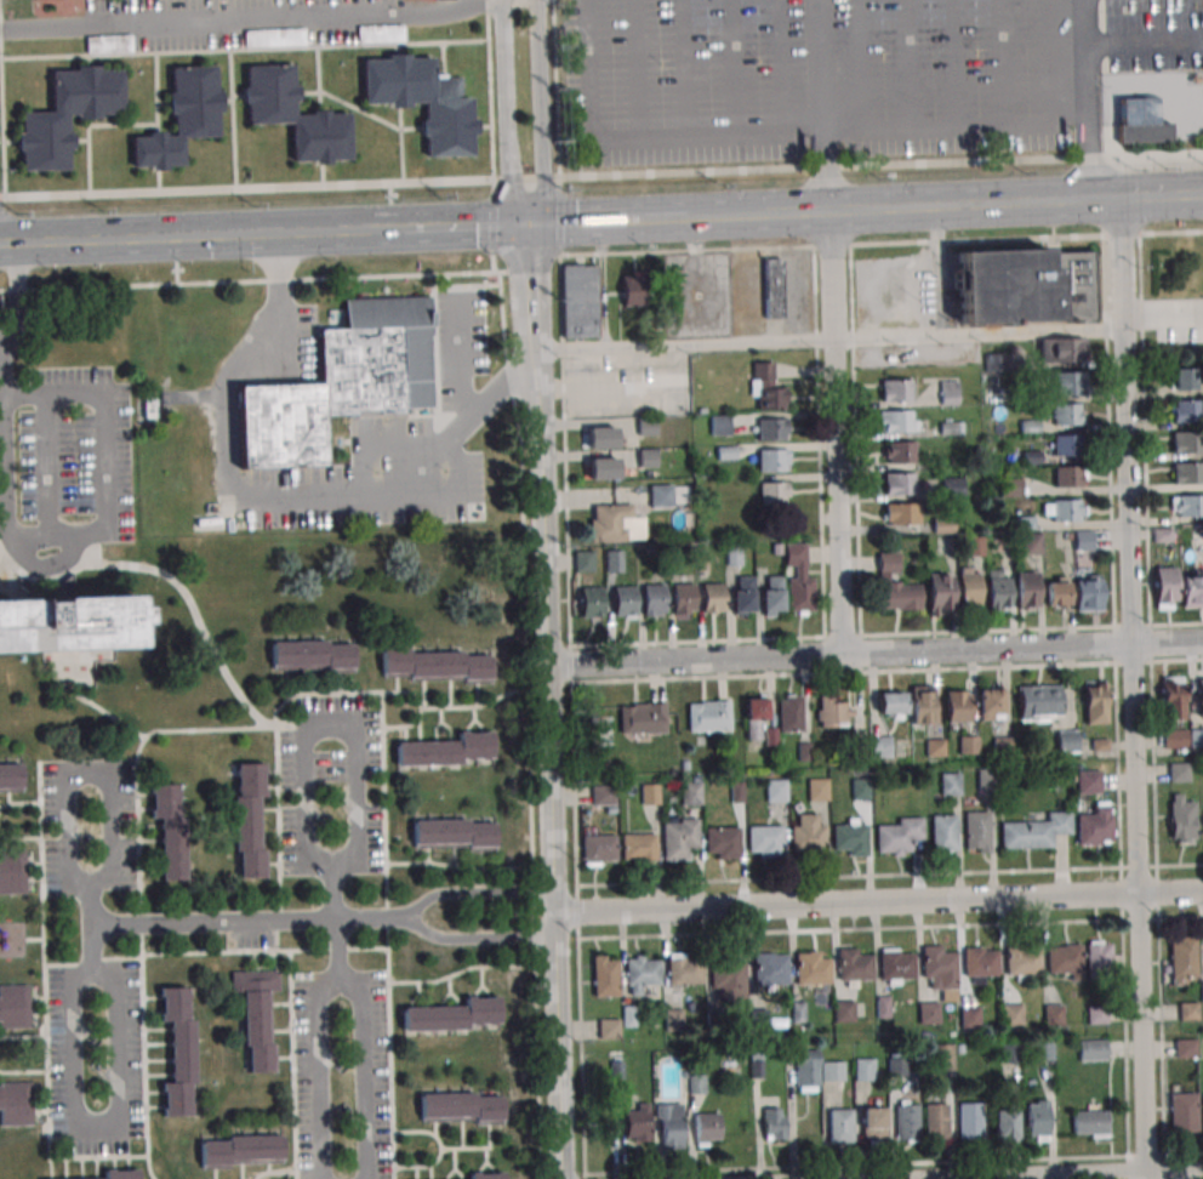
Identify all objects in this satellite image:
road: (244, 22)
building: (381, 33)
building: (275, 36)
building: (109, 42)
road: (1140, 42)
road: (244, 49)
road: (443, 59)
road: (1002, 61)
road: (957, 62)
road: (912, 63)
road: (861, 64)
road: (785, 65)
road: (686, 67)
road: (736, 67)
road: (637, 68)
road: (156, 79)
road: (318, 79)
road: (490, 90)
road: (555, 90)
road: (238, 96)
building: (422, 101)
road: (228, 102)
road: (1079, 102)
road: (158, 109)
road: (358, 110)
road: (2, 113)
road: (540, 113)
road: (507, 114)
building: (183, 118)
building: (295, 118)
building: (44, 119)
road: (233, 119)
building: (1140, 121)
road: (126, 125)
road: (484, 126)
road: (890, 126)
road: (684, 135)
road: (80, 142)
road: (10, 143)
road: (400, 146)
road: (89, 156)
road: (880, 165)
road: (323, 176)
road: (525, 180)
road: (159, 181)
road: (246, 188)
road: (1017, 207)
road: (559, 217)
road: (760, 217)
road: (608, 222)
road: (492, 226)
traffic signals: (529, 226)
road: (450, 227)
traffic signals: (234, 233)
road: (186, 234)
building: (1005, 286)
building: (771, 287)
building: (632, 289)
building: (581, 301)
road: (1164, 314)
road: (828, 337)
building: (1062, 349)
building: (1186, 378)
building: (347, 380)
building: (1066, 383)
building: (765, 388)
building: (896, 391)
building: (950, 392)
road: (38, 394)
building: (1186, 411)
building: (1066, 414)
building: (897, 421)
building: (719, 425)
building: (771, 428)
road: (838, 434)
building: (599, 437)
building: (1187, 442)
building: (1066, 444)
road: (388, 450)
building: (899, 451)
building: (772, 458)
road: (49, 467)
building: (603, 468)
building: (1187, 472)
building: (1067, 475)
building: (899, 483)
building: (774, 492)
building: (665, 495)
road: (292, 496)
building: (1186, 506)
building: (1064, 509)
building: (901, 513)
building: (610, 523)
road: (56, 540)
building: (1032, 542)
road: (542, 558)
building: (585, 560)
building: (615, 560)
building: (799, 580)
building: (895, 586)
building: (969, 587)
building: (1165, 588)
building: (998, 589)
building: (1027, 589)
building: (1192, 589)
building: (1056, 592)
building: (1087, 592)
building: (940, 593)
building: (743, 596)
building: (772, 596)
building: (683, 599)
building: (713, 599)
building: (652, 600)
building: (623, 602)
building: (591, 603)
building: (69, 623)
road: (876, 654)
building: (312, 655)
building: (435, 667)
road: (1133, 690)
building: (1201, 695)
building: (1173, 697)
building: (1039, 701)
building: (1096, 701)
building: (922, 704)
building: (990, 704)
building: (891, 705)
building: (957, 706)
building: (833, 711)
building: (789, 713)
building: (708, 716)
building: (643, 717)
building: (756, 718)
road: (326, 722)
building: (1175, 737)
building: (1196, 737)
building: (1067, 740)
building: (968, 744)
building: (882, 746)
building: (449, 750)
road: (86, 771)
building: (1179, 771)
building: (10, 778)
building: (1088, 782)
building: (950, 784)
building: (861, 788)
building: (776, 790)
building: (817, 790)
building: (650, 794)
building: (605, 799)
building: (1181, 818)
building: (250, 820)
building: (683, 826)
building: (1095, 826)
building: (171, 827)
building: (976, 832)
building: (1033, 832)
building: (942, 833)
building: (455, 835)
building: (897, 836)
building: (850, 839)
building: (765, 841)
building: (808, 841)
building: (723, 843)
building: (639, 847)
building: (599, 849)
building: (12, 872)
road: (474, 894)
road: (554, 902)
road: (878, 902)
road: (577, 911)
road: (267, 919)
road: (336, 922)
road: (113, 923)
road: (91, 933)
road: (474, 938)
building: (1097, 955)
building: (1064, 958)
building: (1021, 961)
building: (1182, 961)
building: (980, 963)
building: (895, 964)
building: (854, 966)
building: (939, 968)
building: (770, 969)
building: (683, 970)
building: (811, 970)
building: (643, 973)
building: (726, 973)
building: (605, 975)
road: (338, 981)
building: (15, 1006)
building: (844, 1010)
building: (928, 1012)
building: (1187, 1012)
building: (1011, 1014)
building: (257, 1015)
building: (456, 1015)
building: (1053, 1015)
building: (969, 1018)
building: (674, 1020)
building: (609, 1029)
road: (558, 1046)
building: (1185, 1048)
building: (1093, 1049)
building: (178, 1052)
building: (1009, 1053)
building: (942, 1058)
building: (897, 1065)
building: (865, 1069)
building: (808, 1070)
building: (834, 1070)
building: (696, 1083)
building: (16, 1104)
building: (462, 1107)
building: (1184, 1111)
building: (1202, 1112)
building: (1037, 1120)
building: (907, 1121)
building: (936, 1121)
building: (969, 1121)
building: (637, 1122)
building: (774, 1123)
building: (873, 1123)
building: (1004, 1123)
building: (1090, 1123)
building: (669, 1124)
building: (840, 1126)
building: (703, 1128)
road: (97, 1130)
building: (241, 1151)
building: (121, 1174)
road: (1071, 1174)
building: (486, 1175)

